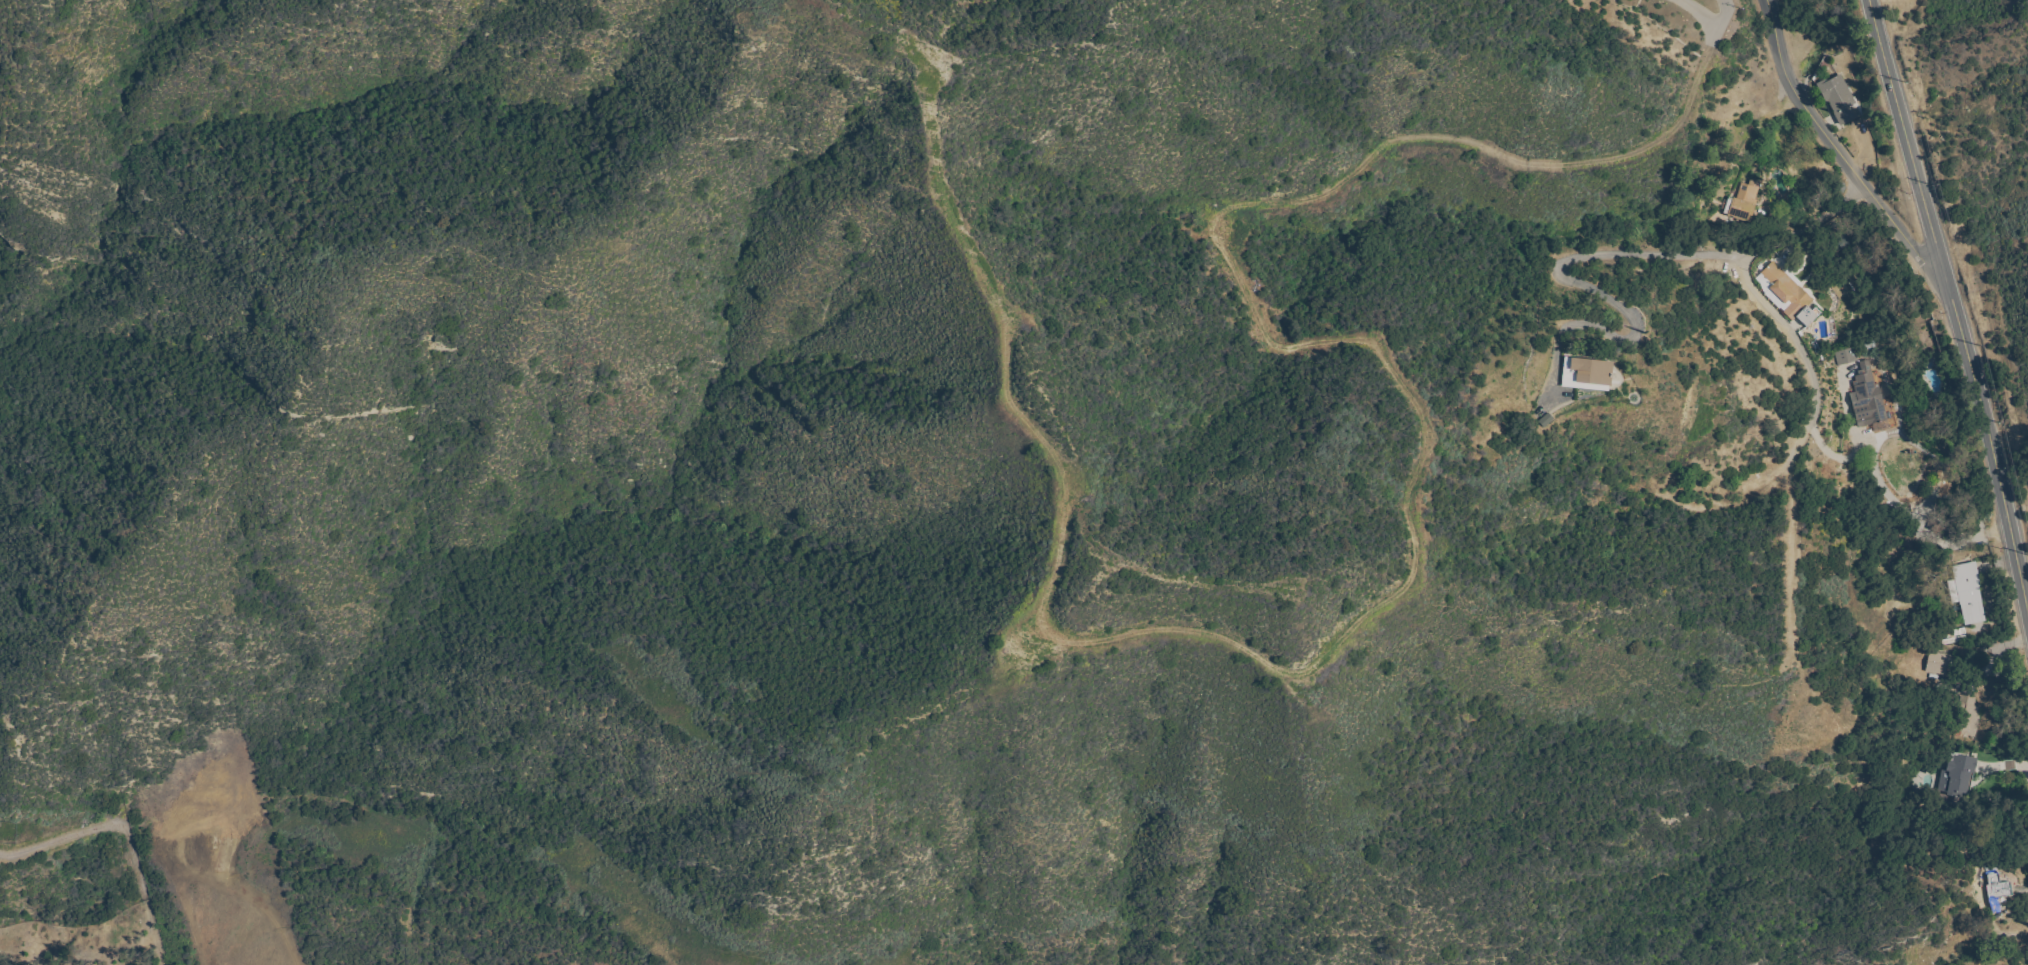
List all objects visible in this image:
road: (1710, 25)
building: (1837, 98)
road: (1837, 151)
building: (1743, 202)
building: (1846, 239)
road: (1594, 260)
building: (1790, 295)
road: (1955, 304)
building: (1846, 356)
road: (1807, 371)
building: (1586, 374)
building: (1867, 398)
building: (1967, 592)
building: (1903, 626)
building: (1949, 634)
building: (1938, 663)
building: (1991, 667)
building: (1968, 711)
road: (1996, 767)
building: (1958, 775)
building: (1997, 891)
road: (2008, 936)

